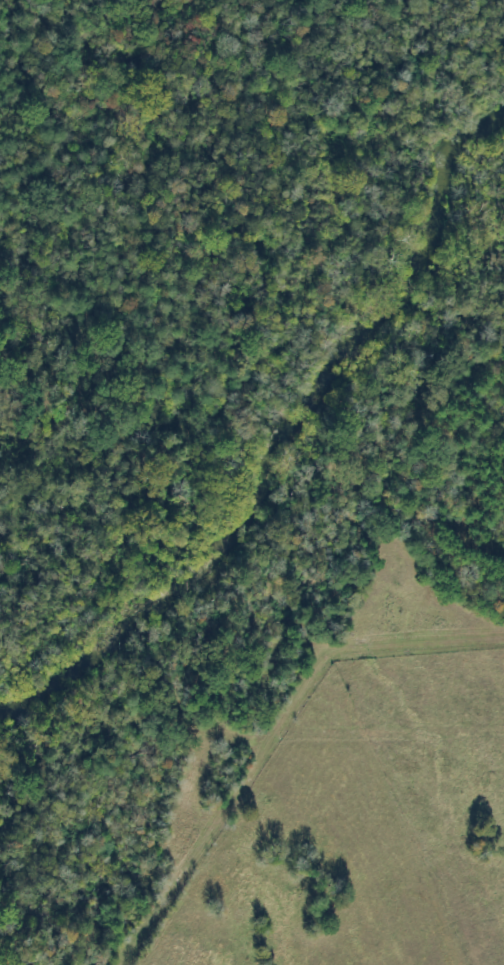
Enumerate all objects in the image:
road: (269, 734)

